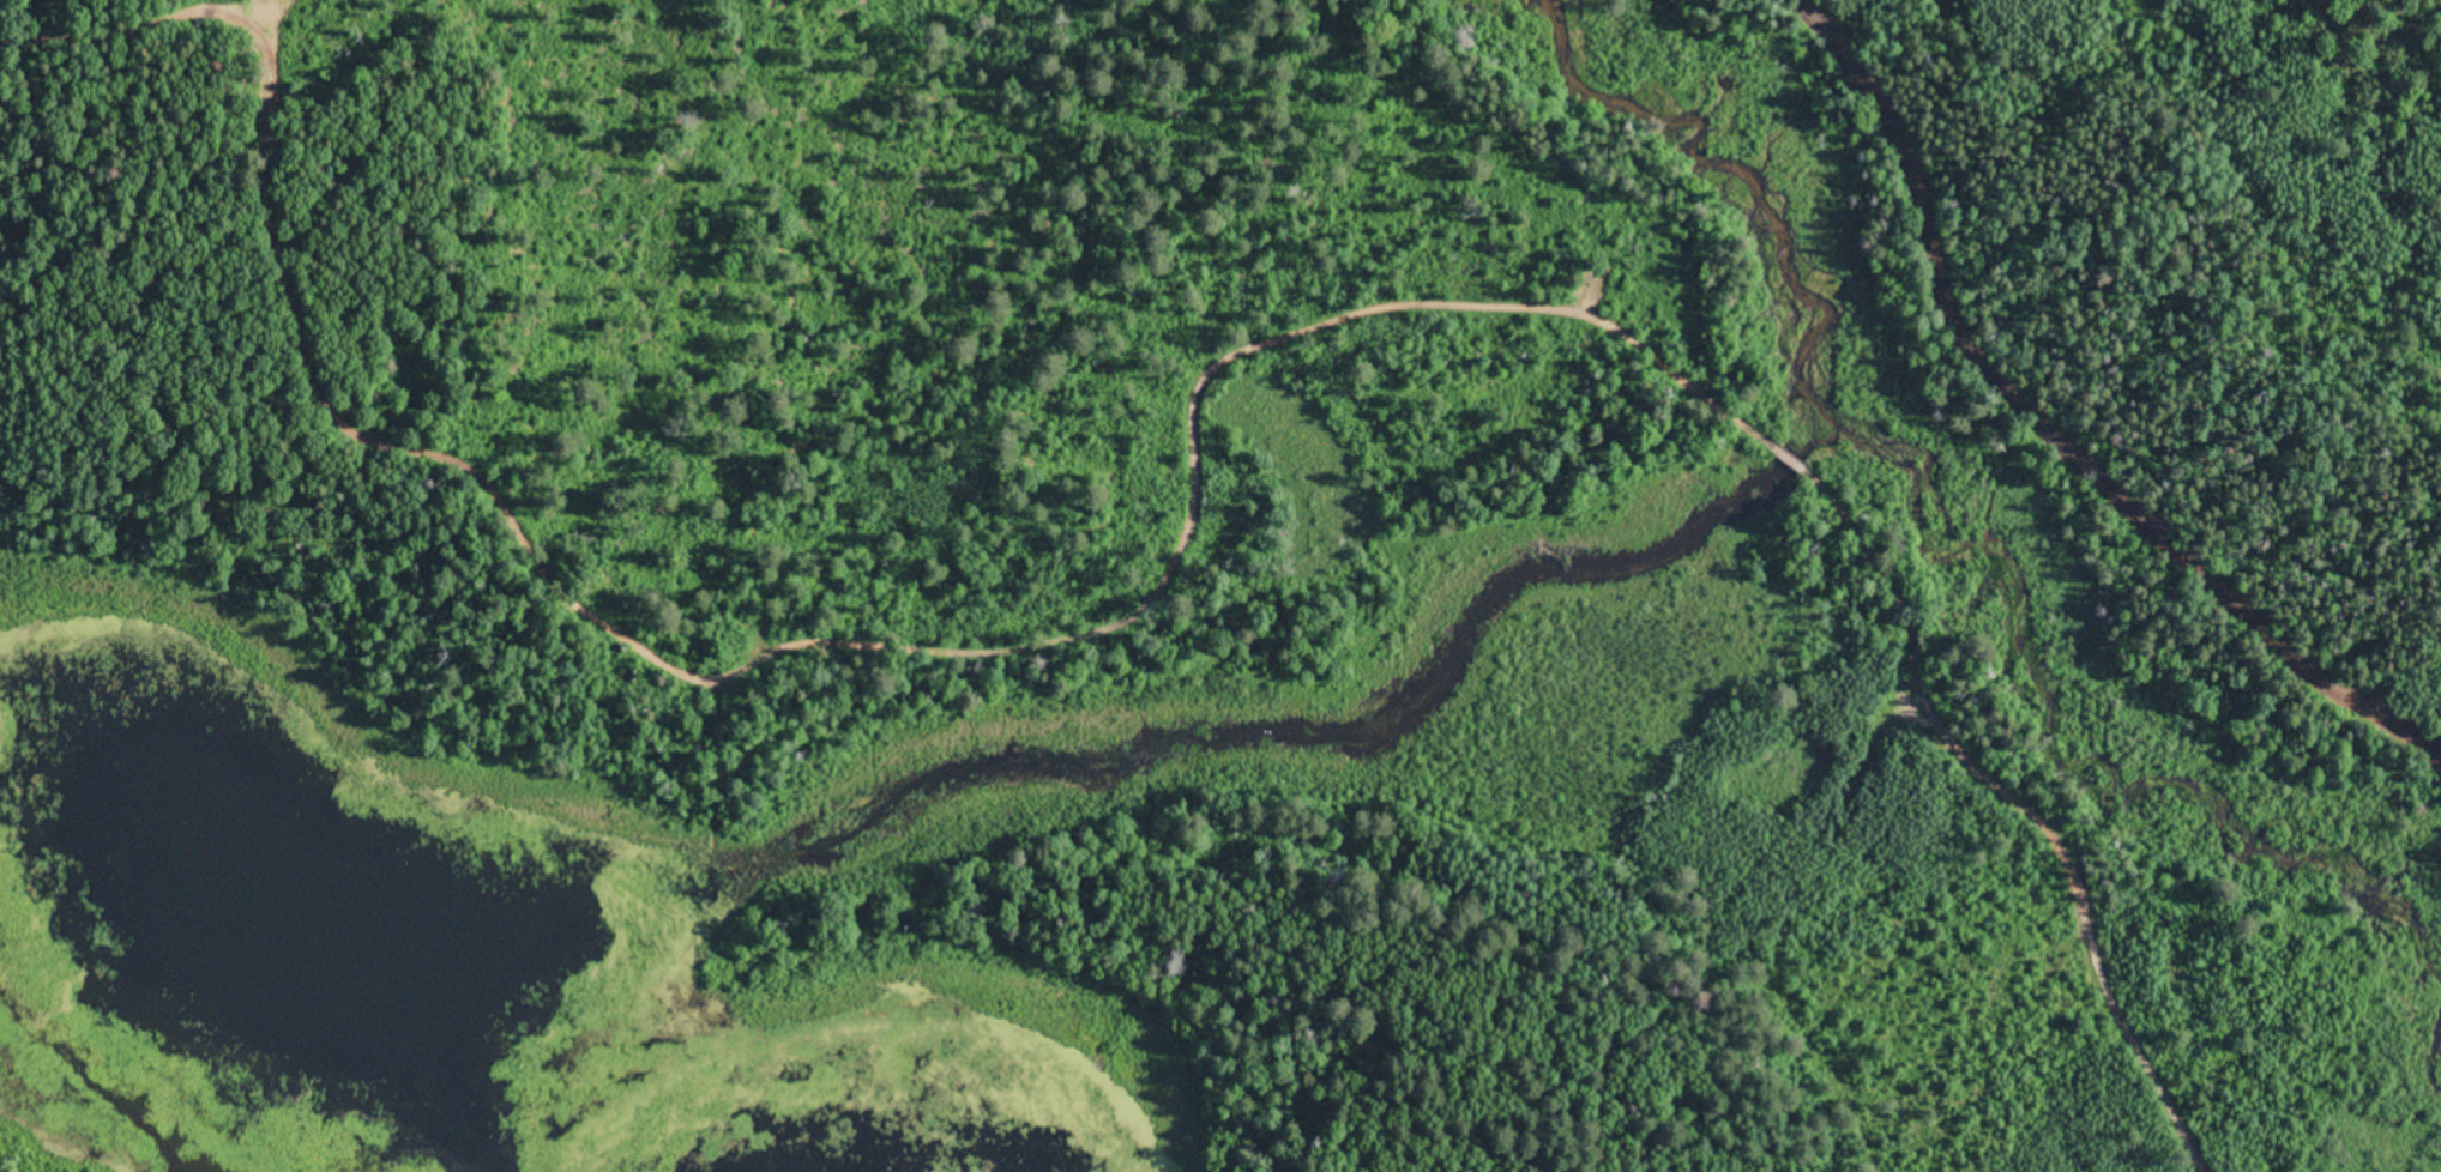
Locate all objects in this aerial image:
road: (1213, 363)
road: (2054, 424)

